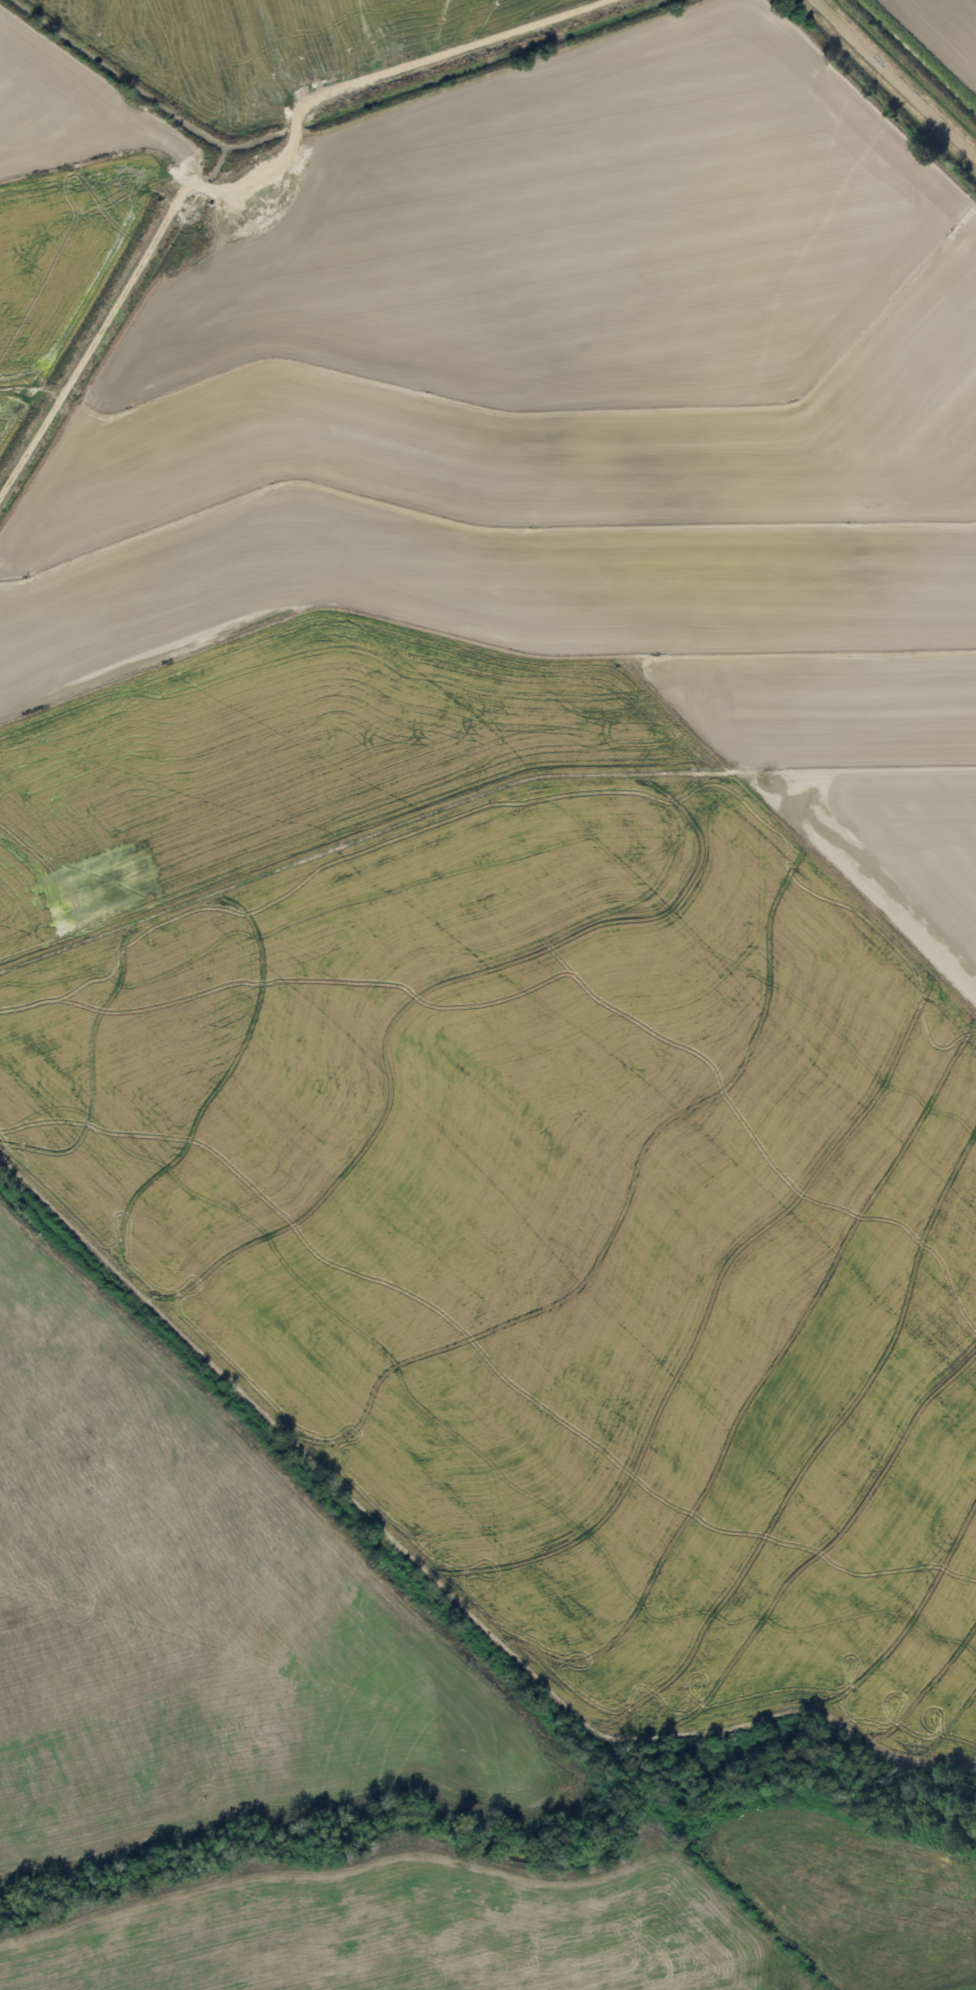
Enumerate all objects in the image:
road: (900, 73)

